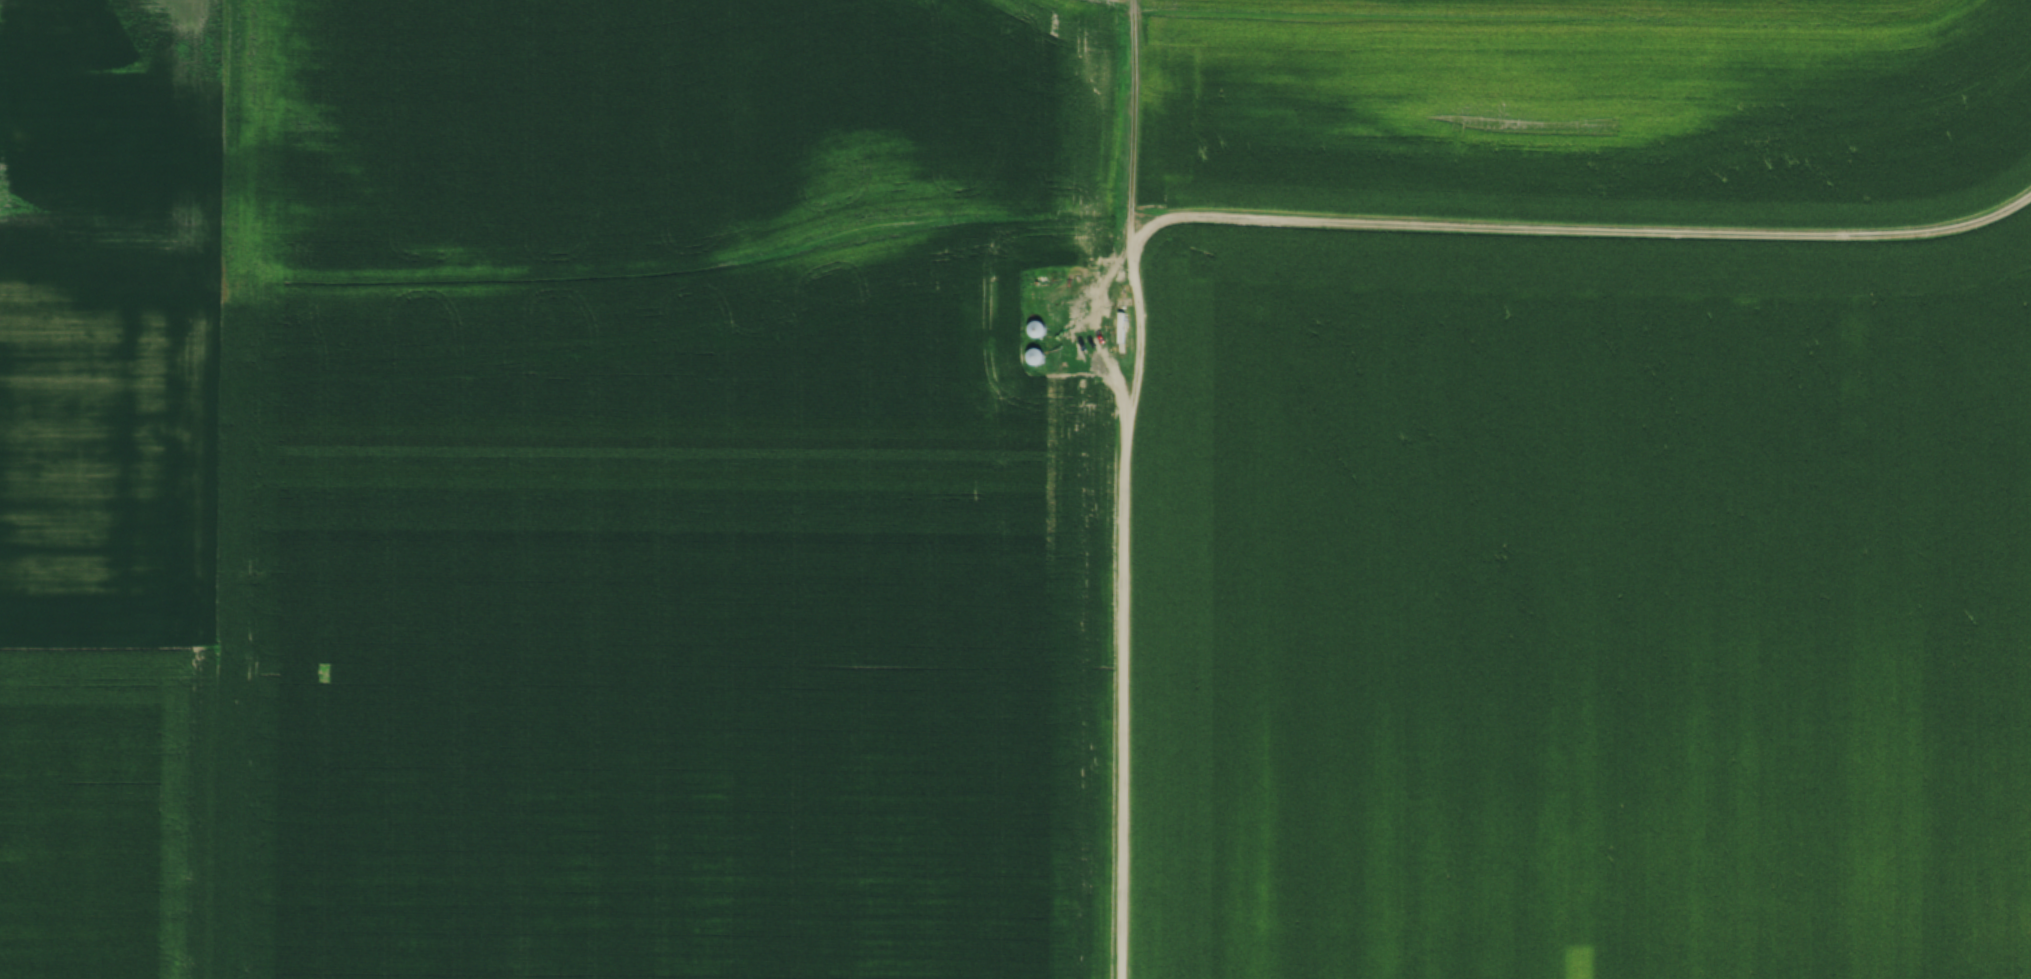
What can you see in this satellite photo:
road: (1217, 225)
building: (1036, 329)
building: (1033, 357)

